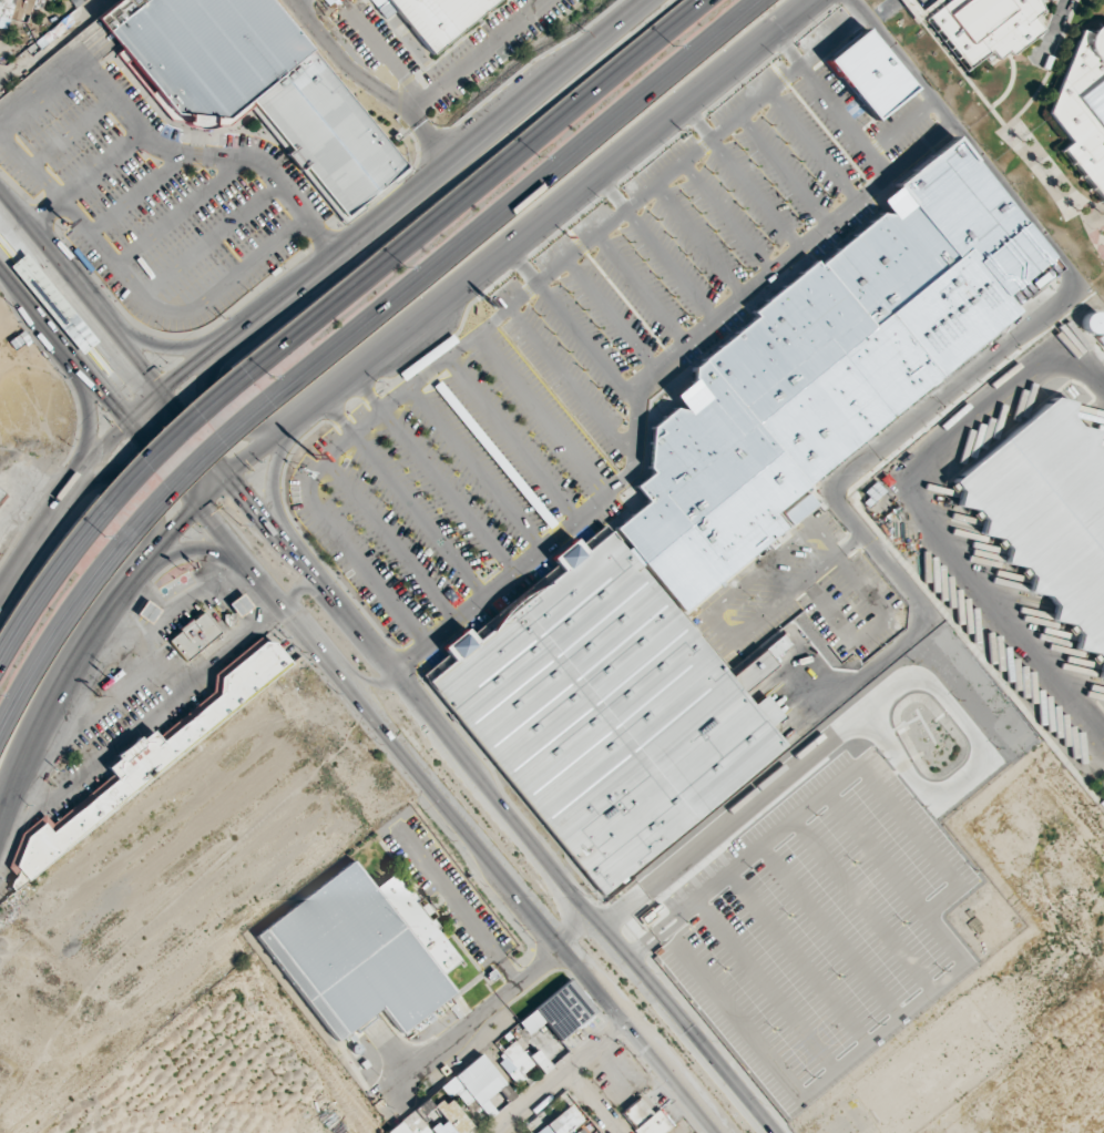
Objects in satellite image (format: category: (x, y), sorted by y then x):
parking lot: (154, 188)
parking lot: (699, 245)
parking lot: (433, 493)
gas station: (238, 608)
gas station: (146, 614)

